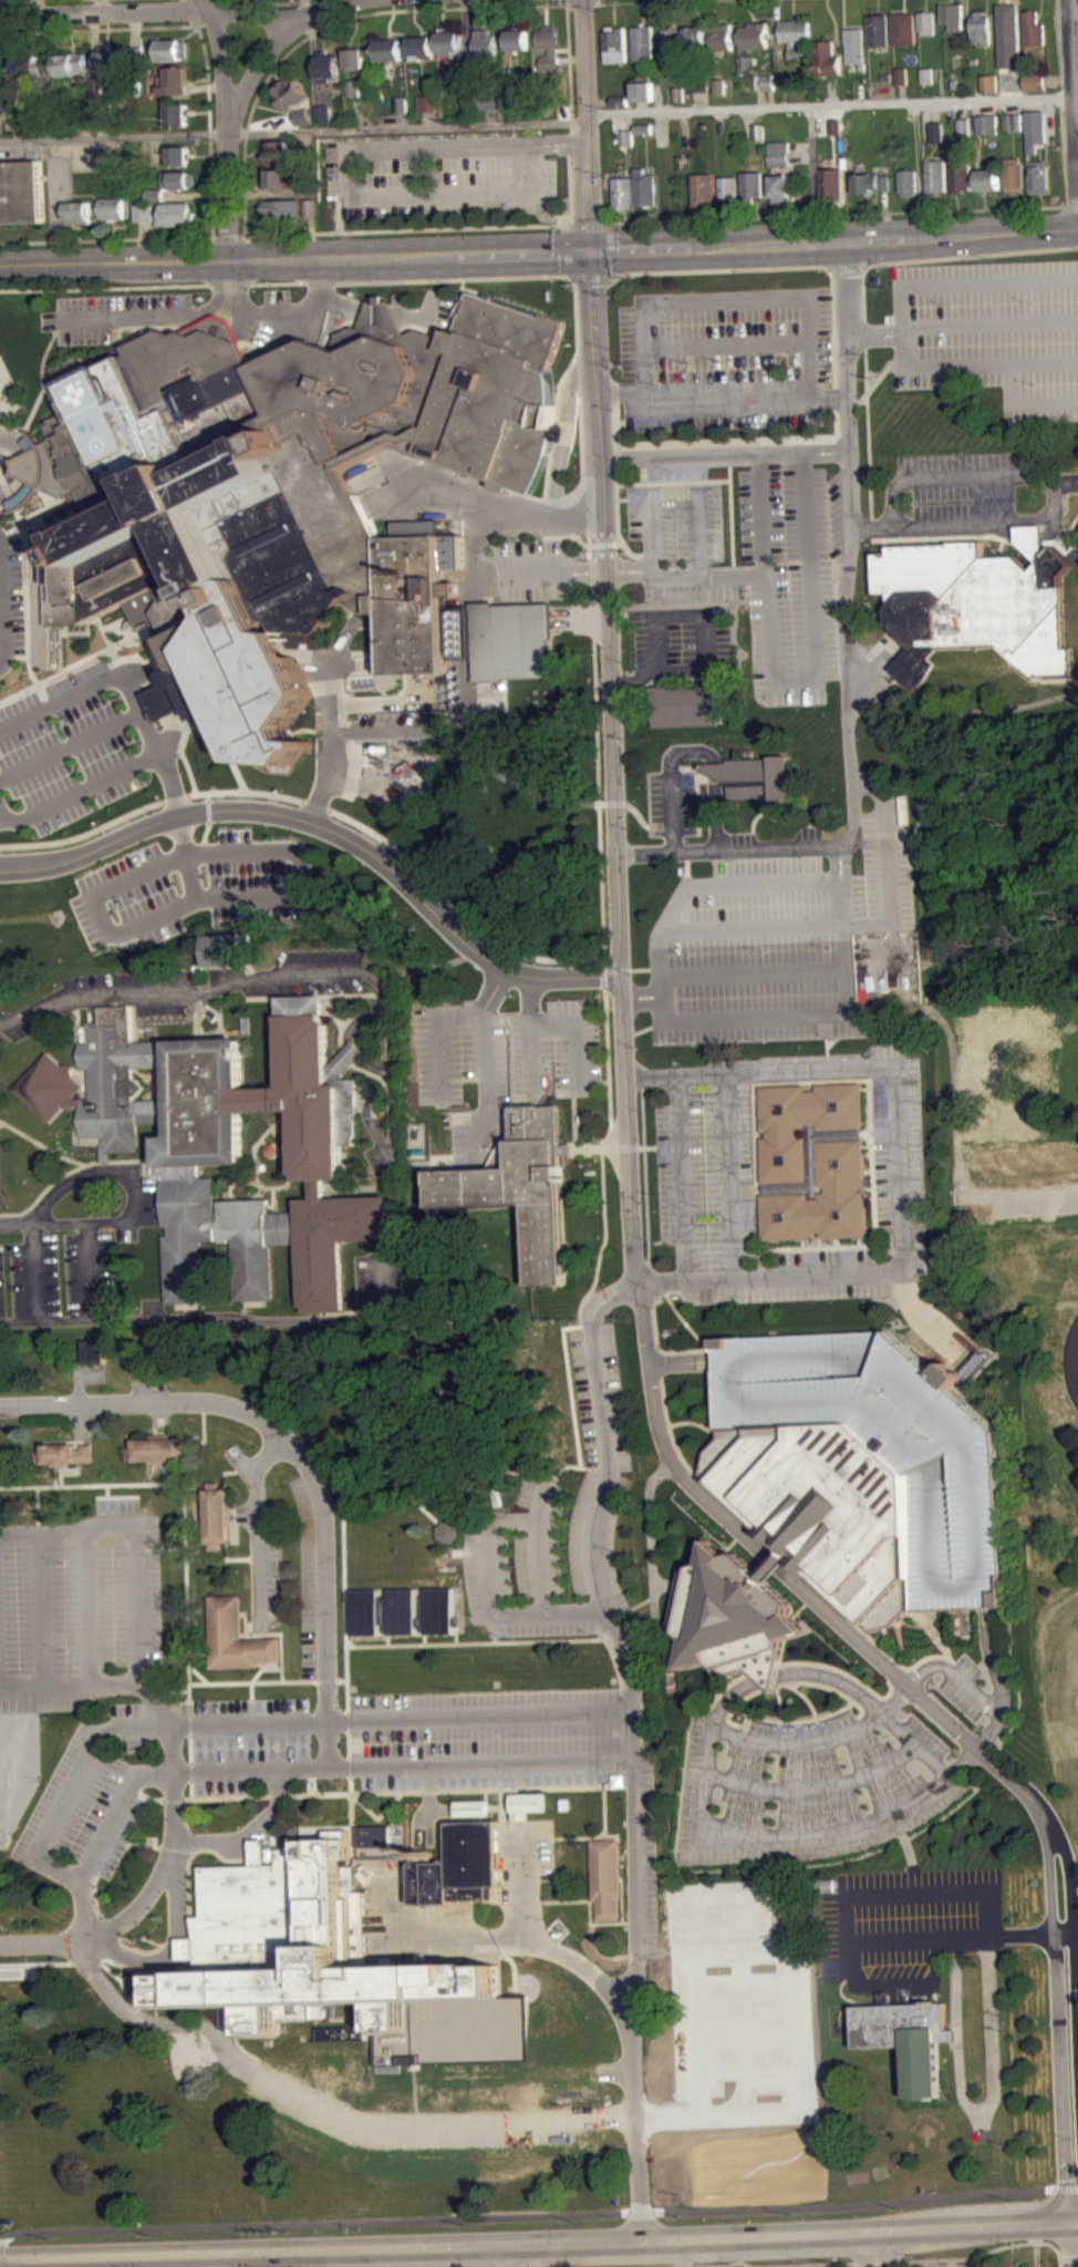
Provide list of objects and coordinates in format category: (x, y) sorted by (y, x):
road: (6, 0)
road: (340, 1)
road: (634, 1)
road: (278, 2)
road: (180, 8)
road: (434, 8)
building: (953, 13)
building: (926, 22)
building: (982, 27)
road: (134, 28)
building: (1034, 28)
building: (904, 29)
building: (878, 30)
road: (199, 32)
building: (694, 33)
building: (754, 34)
building: (721, 35)
building: (794, 35)
building: (518, 39)
building: (672, 39)
building: (642, 42)
building: (694, 42)
road: (93, 43)
building: (452, 43)
building: (422, 44)
building: (616, 44)
building: (486, 45)
building: (854, 45)
building: (549, 47)
building: (172, 49)
building: (391, 49)
road: (6, 54)
building: (135, 54)
building: (356, 56)
building: (827, 58)
building: (110, 59)
road: (314, 61)
building: (71, 63)
road: (258, 64)
building: (28, 66)
building: (329, 66)
building: (927, 74)
building: (902, 75)
building: (463, 78)
building: (175, 80)
building: (764, 81)
building: (1036, 81)
building: (96, 83)
building: (697, 83)
building: (927, 83)
building: (989, 83)
building: (718, 85)
road: (206, 86)
building: (353, 86)
road: (832, 89)
building: (764, 90)
building: (644, 91)
building: (291, 92)
building: (676, 93)
building: (698, 93)
building: (718, 94)
building: (354, 95)
building: (490, 99)
road: (769, 99)
road: (599, 101)
building: (620, 101)
building: (11, 102)
building: (427, 102)
building: (401, 103)
road: (831, 105)
road: (640, 106)
building: (620, 109)
building: (491, 110)
building: (104, 111)
road: (360, 112)
building: (401, 112)
building: (324, 113)
road: (1071, 113)
building: (180, 114)
building: (302, 115)
building: (82, 116)
road: (491, 116)
road: (429, 118)
road: (402, 120)
building: (1014, 121)
building: (988, 123)
building: (303, 124)
road: (279, 125)
road: (585, 125)
building: (1037, 125)
building: (835, 126)
building: (965, 126)
road: (407, 127)
building: (644, 127)
road: (105, 128)
road: (230, 128)
building: (1015, 130)
building: (759, 131)
building: (937, 131)
road: (82, 132)
building: (836, 133)
building: (964, 134)
building: (643, 135)
building: (626, 136)
road: (115, 137)
building: (758, 140)
road: (558, 142)
building: (628, 144)
road: (414, 146)
road: (154, 150)
building: (278, 152)
building: (779, 152)
building: (179, 155)
building: (963, 174)
parking lot: (442, 175)
building: (936, 175)
building: (1015, 175)
building: (1040, 175)
building: (279, 177)
building: (180, 179)
building: (991, 179)
building: (831, 182)
building: (871, 182)
building: (908, 182)
building: (753, 184)
building: (645, 186)
road: (813, 186)
building: (728, 187)
building: (781, 187)
building: (702, 188)
building: (308, 189)
building: (21, 190)
road: (464, 192)
road: (265, 193)
building: (623, 193)
building: (155, 194)
road: (197, 195)
building: (307, 196)
building: (155, 202)
building: (112, 207)
building: (311, 207)
road: (554, 209)
building: (79, 212)
building: (143, 212)
building: (282, 212)
building: (177, 214)
road: (841, 214)
road: (885, 214)
road: (339, 215)
road: (587, 223)
road: (405, 228)
road: (229, 236)
road: (312, 236)
road: (108, 239)
road: (145, 241)
road: (610, 248)
road: (564, 249)
traffic signals: (589, 251)
road: (539, 253)
road: (908, 260)
road: (846, 267)
road: (717, 269)
road: (511, 277)
road: (588, 278)
road: (231, 284)
road: (902, 306)
parking lot: (115, 313)
road: (280, 313)
road: (147, 315)
road: (449, 318)
parking lot: (992, 331)
road: (874, 334)
road: (43, 360)
road: (95, 360)
road: (972, 363)
helipad: (90, 393)
road: (1023, 403)
road: (722, 406)
road: (558, 408)
road: (20, 432)
road: (15, 440)
road: (752, 440)
road: (868, 446)
road: (30, 466)
road: (40, 466)
road: (1066, 481)
parking lot: (964, 487)
road: (7, 488)
building: (282, 490)
road: (17, 492)
road: (494, 504)
road: (7, 506)
road: (890, 513)
road: (853, 519)
road: (701, 523)
road: (871, 524)
road: (650, 525)
road: (1066, 532)
road: (936, 537)
road: (475, 546)
road: (882, 546)
road: (998, 546)
parking lot: (733, 566)
road: (628, 569)
road: (552, 571)
road: (767, 575)
road: (734, 576)
road: (677, 577)
road: (27, 578)
road: (810, 592)
road: (3, 601)
building: (974, 602)
road: (678, 616)
building: (510, 639)
road: (137, 658)
road: (101, 681)
road: (333, 687)
road: (163, 700)
building: (685, 704)
parking lot: (68, 709)
road: (942, 724)
road: (335, 738)
road: (70, 744)
road: (612, 761)
building: (755, 777)
road: (672, 779)
road: (174, 787)
road: (535, 792)
road: (180, 797)
parking lot: (672, 798)
road: (715, 813)
road: (759, 848)
road: (737, 884)
road: (841, 884)
road: (463, 917)
road: (867, 924)
parking lot: (787, 939)
building: (225, 949)
parking lot: (309, 973)
road: (744, 973)
parking lot: (135, 990)
road: (643, 997)
road: (527, 999)
road: (758, 1017)
parking lot: (19, 1026)
road: (576, 1035)
road: (489, 1063)
parking lot: (520, 1065)
building: (101, 1088)
building: (310, 1091)
road: (258, 1141)
road: (394, 1146)
road: (134, 1161)
building: (813, 1161)
road: (96, 1163)
road: (83, 1165)
parking lot: (705, 1166)
road: (901, 1166)
road: (115, 1167)
building: (176, 1173)
road: (730, 1175)
road: (681, 1176)
road: (232, 1183)
road: (249, 1183)
building: (521, 1185)
road: (277, 1186)
road: (18, 1222)
road: (60, 1223)
road: (89, 1270)
road: (37, 1272)
parking lot: (60, 1277)
road: (683, 1320)
road: (935, 1329)
road: (657, 1342)
building: (94, 1358)
road: (680, 1361)
road: (1071, 1364)
road: (666, 1412)
road: (282, 1439)
parking lot: (887, 1441)
building: (160, 1450)
building: (65, 1453)
road: (61, 1475)
road: (94, 1484)
road: (706, 1486)
road: (37, 1502)
building: (216, 1515)
road: (256, 1518)
parking lot: (558, 1522)
road: (185, 1525)
road: (344, 1526)
building: (449, 1531)
road: (651, 1538)
building: (799, 1539)
road: (147, 1548)
road: (538, 1567)
road: (780, 1568)
road: (488, 1572)
parking lot: (307, 1574)
road: (90, 1579)
road: (666, 1584)
road: (817, 1588)
parking lot: (89, 1603)
building: (402, 1611)
road: (849, 1619)
road: (268, 1632)
road: (243, 1634)
building: (235, 1636)
road: (187, 1650)
road: (929, 1656)
road: (994, 1660)
road: (787, 1663)
road: (278, 1668)
road: (259, 1671)
road: (819, 1676)
road: (115, 1679)
road: (326, 1679)
road: (284, 1680)
road: (21, 1681)
road: (188, 1682)
road: (788, 1682)
parking lot: (965, 1687)
road: (971, 1689)
road: (348, 1690)
road: (807, 1698)
road: (780, 1701)
road: (470, 1717)
road: (189, 1718)
road: (796, 1719)
road: (349, 1721)
road: (241, 1723)
parking lot: (488, 1738)
road: (822, 1741)
road: (349, 1743)
parking lot: (248, 1744)
road: (329, 1744)
road: (631, 1746)
road: (189, 1749)
road: (86, 1762)
road: (473, 1763)
road: (350, 1766)
road: (243, 1769)
road: (190, 1771)
road: (839, 1780)
parking lot: (815, 1782)
road: (350, 1784)
road: (530, 1787)
road: (133, 1789)
road: (190, 1789)
road: (395, 1791)
road: (276, 1794)
road: (149, 1797)
road: (211, 1797)
parking lot: (92, 1799)
road: (175, 1799)
road: (604, 1800)
building: (527, 1803)
building: (473, 1807)
road: (377, 1816)
road: (352, 1821)
road: (251, 1835)
building: (374, 1835)
road: (603, 1835)
road: (792, 1836)
road: (104, 1837)
road: (116, 1837)
road: (539, 1837)
road: (144, 1844)
road: (191, 1851)
road: (588, 1852)
parking lot: (649, 1854)
road: (189, 1864)
building: (458, 1865)
road: (94, 1871)
building: (605, 1877)
road: (95, 1894)
road: (533, 1902)
road: (139, 1903)
road: (590, 1906)
road: (1075, 1927)
road: (846, 1928)
road: (1063, 1929)
road: (477, 1935)
road: (1072, 1937)
building: (299, 1947)
road: (100, 1951)
road: (168, 1954)
road: (935, 1958)
road: (849, 1961)
road: (35, 1964)
road: (583, 1967)
road: (145, 1972)
road: (120, 1980)
road: (894, 1981)
road: (138, 1989)
building: (717, 2006)
road: (1056, 2013)
road: (412, 2022)
building: (909, 2038)
building: (342, 2041)
road: (268, 2061)
parking lot: (449, 2068)
road: (329, 2077)
road: (1066, 2187)
road: (525, 2215)
road: (539, 2245)
road: (1069, 2247)
road: (883, 2250)
road: (684, 2254)
road: (979, 2254)
road: (1074, 2255)
road: (1064, 2256)
road: (505, 2257)
road: (228, 2259)
road: (846, 2263)
road: (726, 2264)

